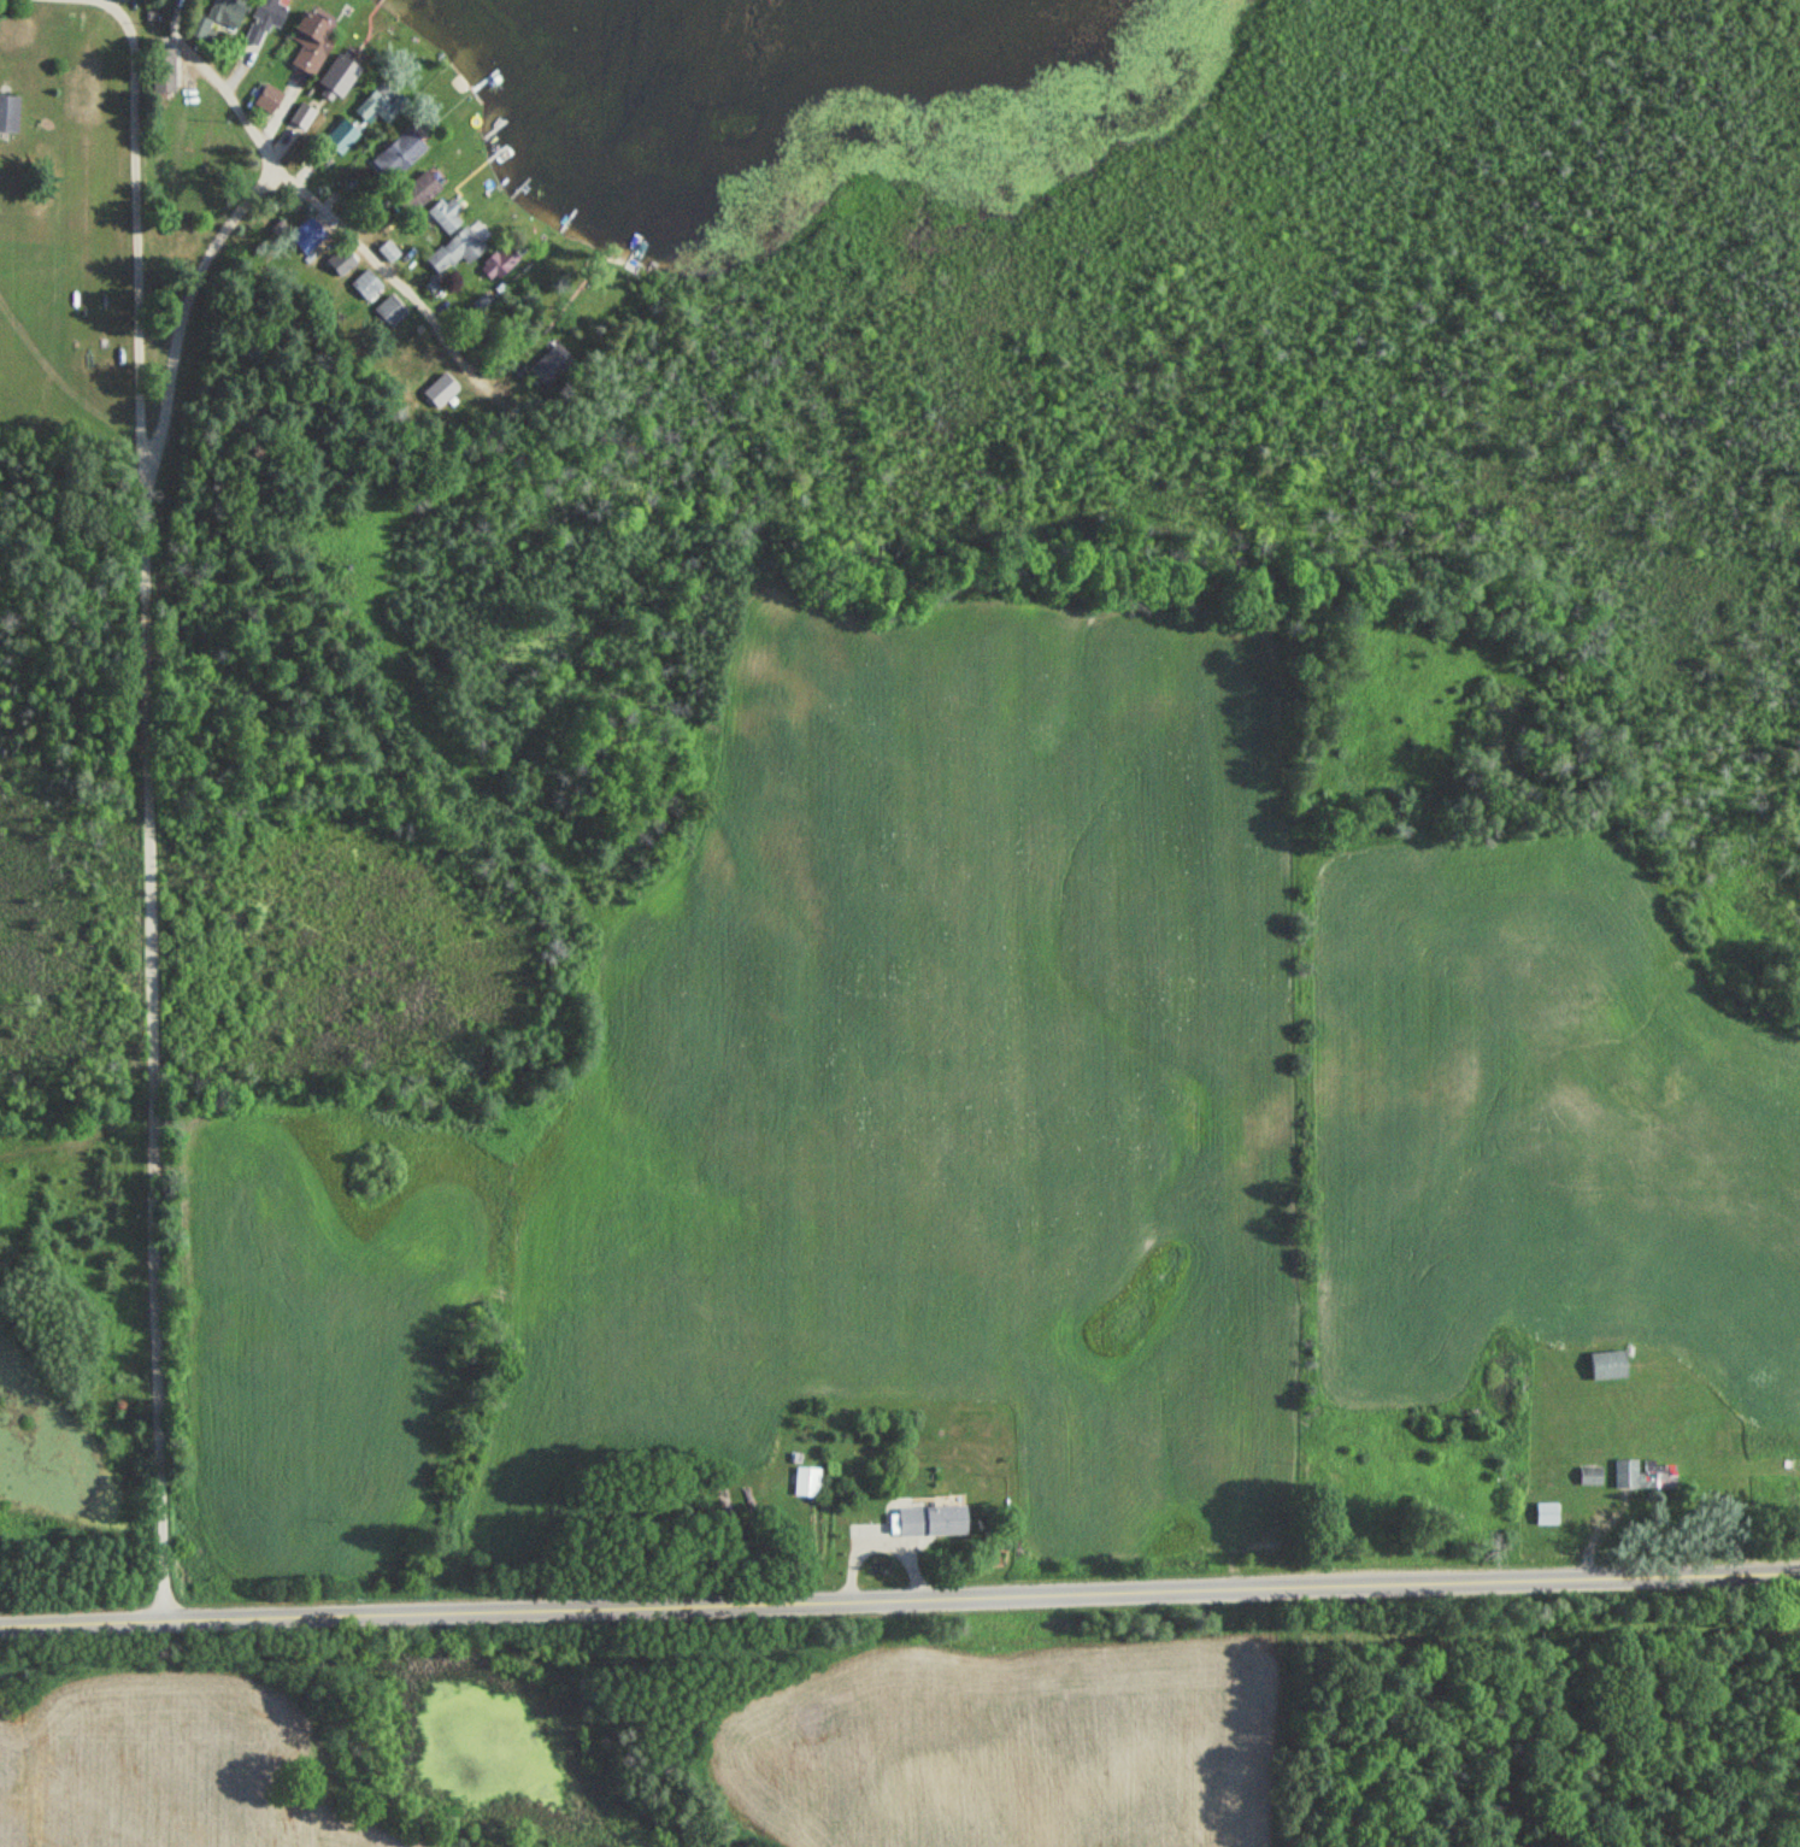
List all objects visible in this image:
building: (270, 13)
building: (308, 42)
building: (342, 67)
building: (161, 69)
building: (266, 98)
building: (380, 107)
building: (7, 113)
building: (341, 136)
building: (398, 153)
road: (272, 176)
building: (416, 192)
building: (445, 214)
building: (306, 235)
building: (454, 253)
building: (366, 284)
building: (390, 312)
building: (551, 364)
building: (441, 390)
road: (151, 802)
building: (1605, 1365)
building: (1593, 1439)
building: (1643, 1475)
building: (1589, 1476)
building: (806, 1482)
building: (1545, 1513)
building: (928, 1520)
road: (899, 1598)

